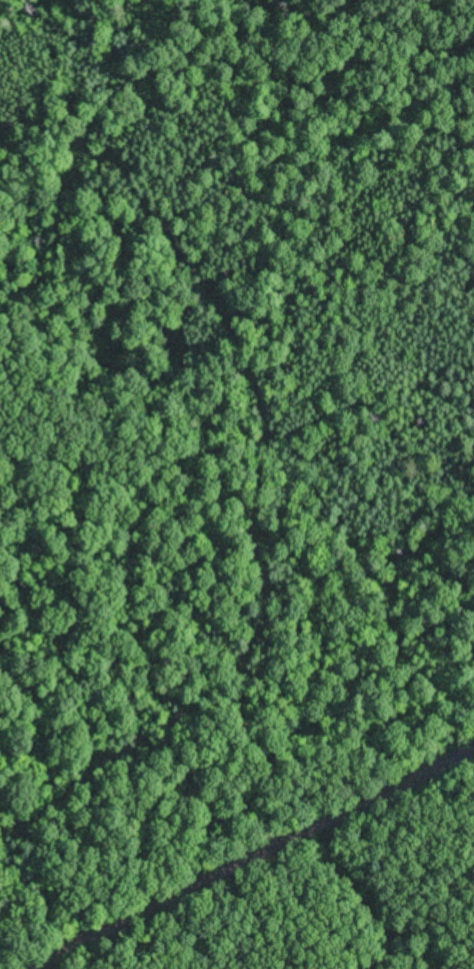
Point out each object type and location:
road: (252, 859)

